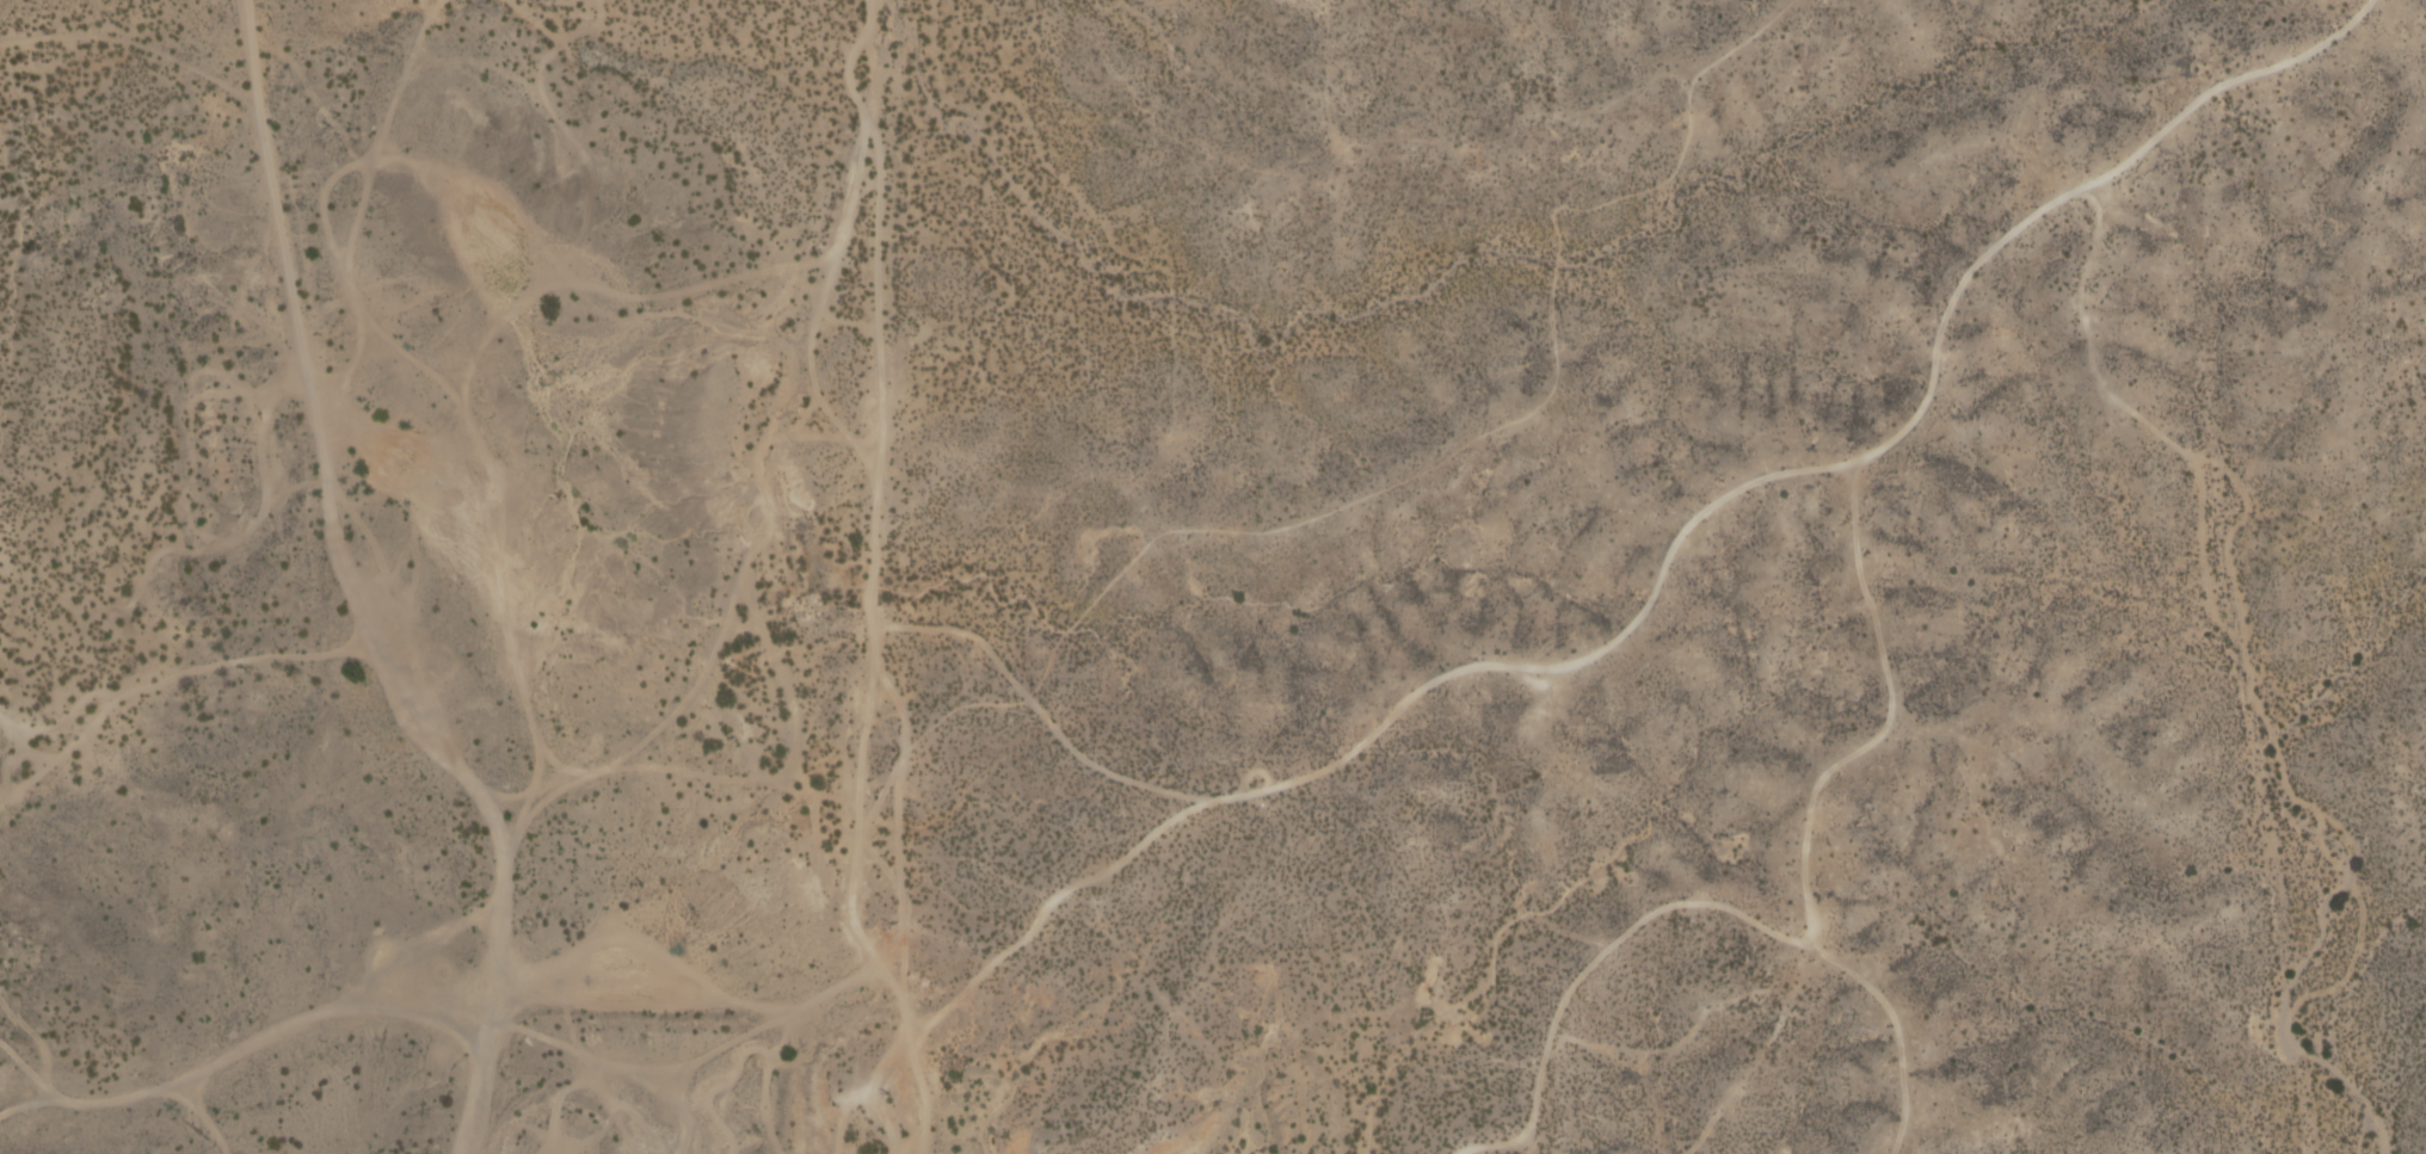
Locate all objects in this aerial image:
road: (1665, 559)
road: (875, 584)
road: (289, 1020)

